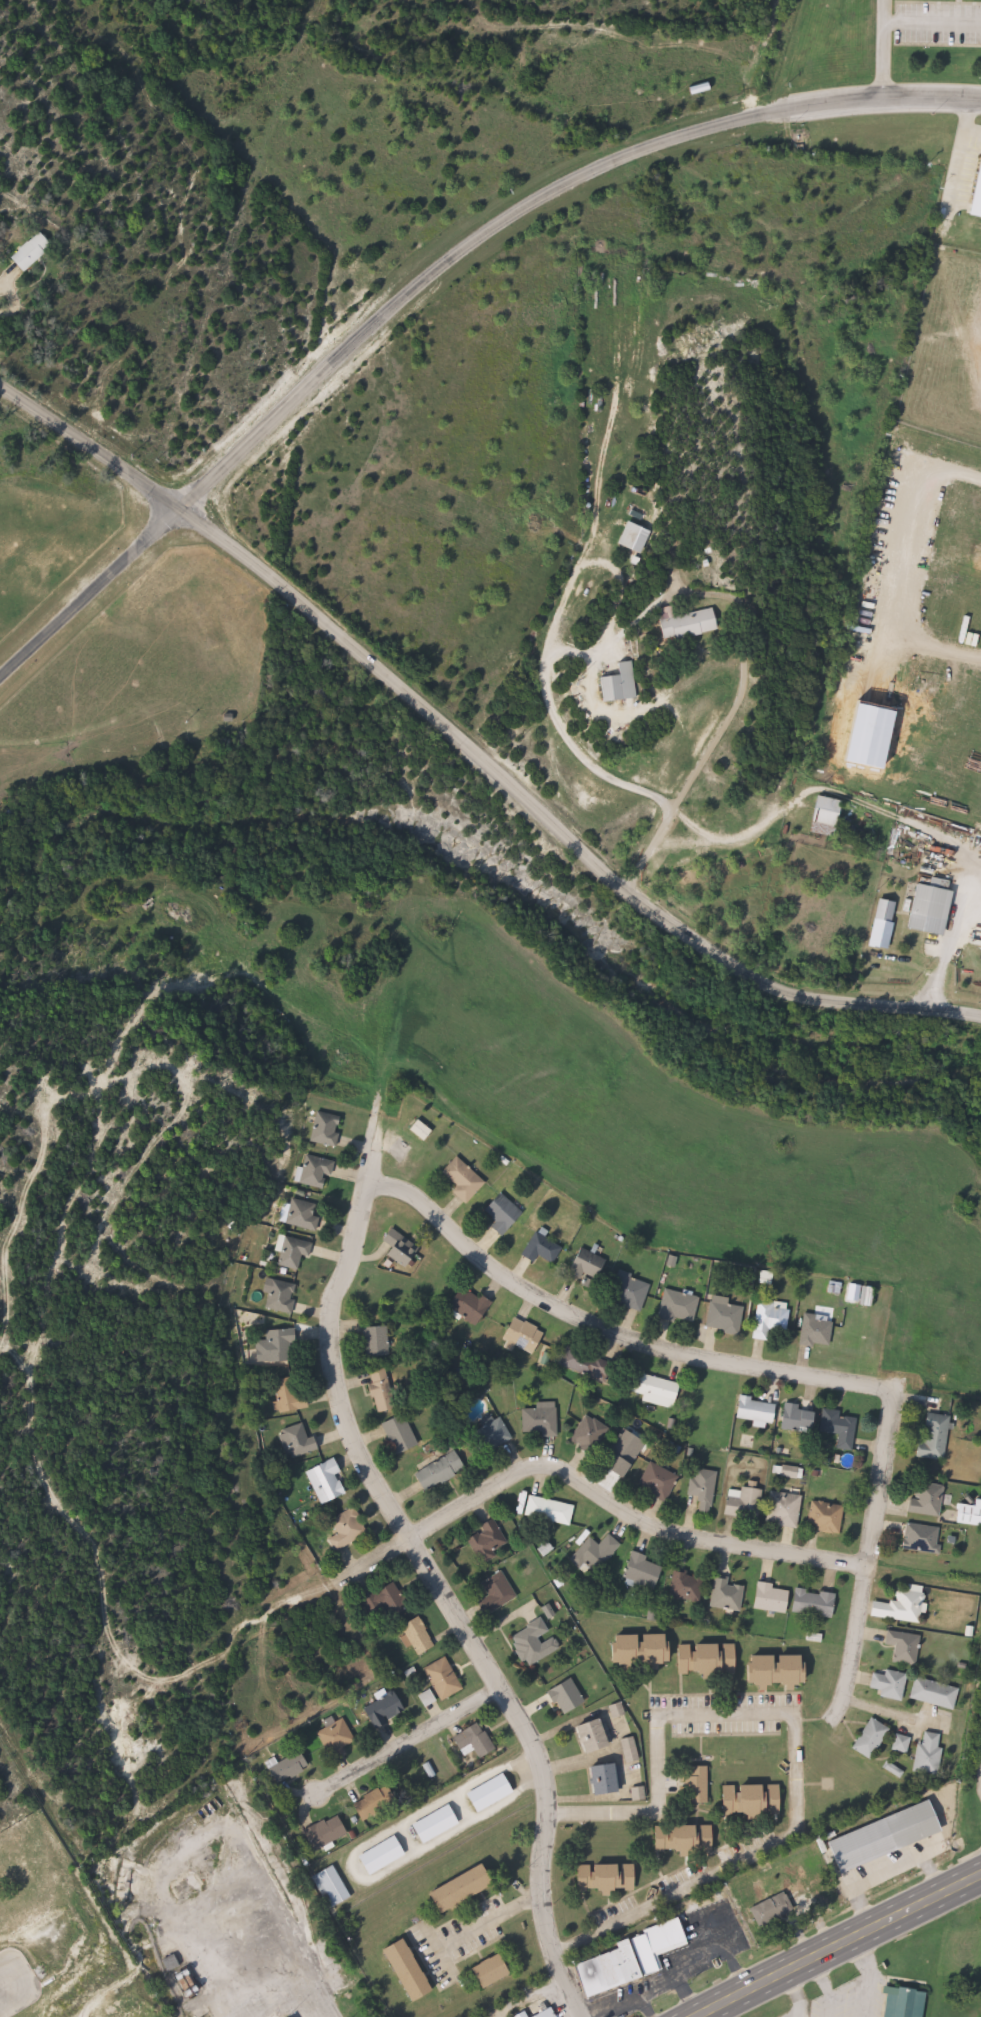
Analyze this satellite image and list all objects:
road: (774, 18)
road: (494, 22)
road: (931, 22)
road: (880, 49)
road: (749, 190)
building: (36, 251)
road: (432, 274)
building: (644, 537)
building: (701, 622)
road: (834, 656)
building: (630, 684)
road: (471, 748)
building: (829, 815)
building: (935, 909)
building: (886, 924)
building: (327, 1129)
building: (423, 1130)
road: (367, 1151)
building: (318, 1172)
building: (465, 1180)
building: (505, 1214)
building: (304, 1215)
building: (544, 1248)
building: (402, 1249)
building: (295, 1252)
building: (590, 1266)
building: (631, 1292)
building: (282, 1297)
road: (544, 1301)
building: (681, 1308)
building: (726, 1318)
building: (772, 1320)
building: (818, 1331)
building: (525, 1336)
building: (378, 1342)
building: (281, 1346)
building: (585, 1366)
building: (384, 1391)
building: (658, 1391)
building: (291, 1397)
building: (759, 1411)
building: (802, 1419)
building: (542, 1420)
building: (843, 1428)
building: (402, 1434)
building: (492, 1435)
building: (590, 1435)
building: (926, 1436)
building: (298, 1441)
building: (626, 1454)
building: (441, 1471)
building: (329, 1482)
building: (659, 1482)
building: (705, 1488)
road: (592, 1493)
building: (920, 1498)
building: (746, 1503)
building: (786, 1510)
building: (551, 1511)
building: (965, 1513)
building: (827, 1517)
building: (349, 1529)
building: (916, 1537)
building: (490, 1541)
building: (597, 1554)
road: (866, 1558)
building: (645, 1571)
building: (688, 1586)
building: (499, 1593)
building: (728, 1595)
building: (775, 1598)
building: (387, 1601)
building: (817, 1604)
building: (895, 1606)
building: (420, 1636)
building: (536, 1643)
building: (897, 1649)
building: (679, 1655)
road: (479, 1661)
building: (780, 1672)
building: (446, 1679)
building: (884, 1684)
building: (929, 1693)
building: (569, 1698)
building: (390, 1715)
road: (425, 1733)
building: (338, 1738)
building: (591, 1739)
building: (865, 1739)
road: (795, 1740)
building: (477, 1741)
building: (896, 1743)
building: (924, 1753)
building: (291, 1768)
building: (603, 1781)
building: (699, 1786)
building: (492, 1794)
building: (754, 1801)
building: (378, 1804)
building: (438, 1825)
building: (327, 1833)
building: (877, 1837)
building: (687, 1840)
building: (384, 1856)
building: (610, 1877)
building: (334, 1888)
building: (466, 1889)
building: (775, 1910)
road: (843, 1946)
building: (634, 1958)
building: (172, 1963)
building: (414, 1970)
building: (497, 1970)
building: (897, 2003)
building: (550, 2013)
building: (526, 2015)

